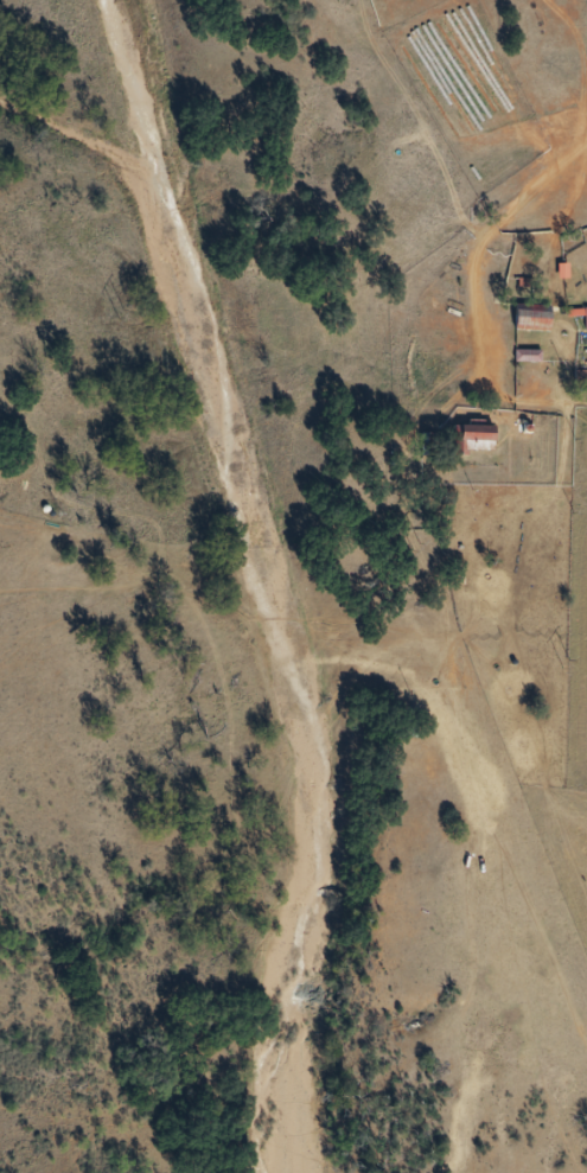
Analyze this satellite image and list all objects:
road: (430, 193)
power tower: (133, 314)
building: (536, 318)
building: (477, 438)
building: (432, 445)
road: (477, 470)
power tower: (425, 544)
power tower: (570, 664)

